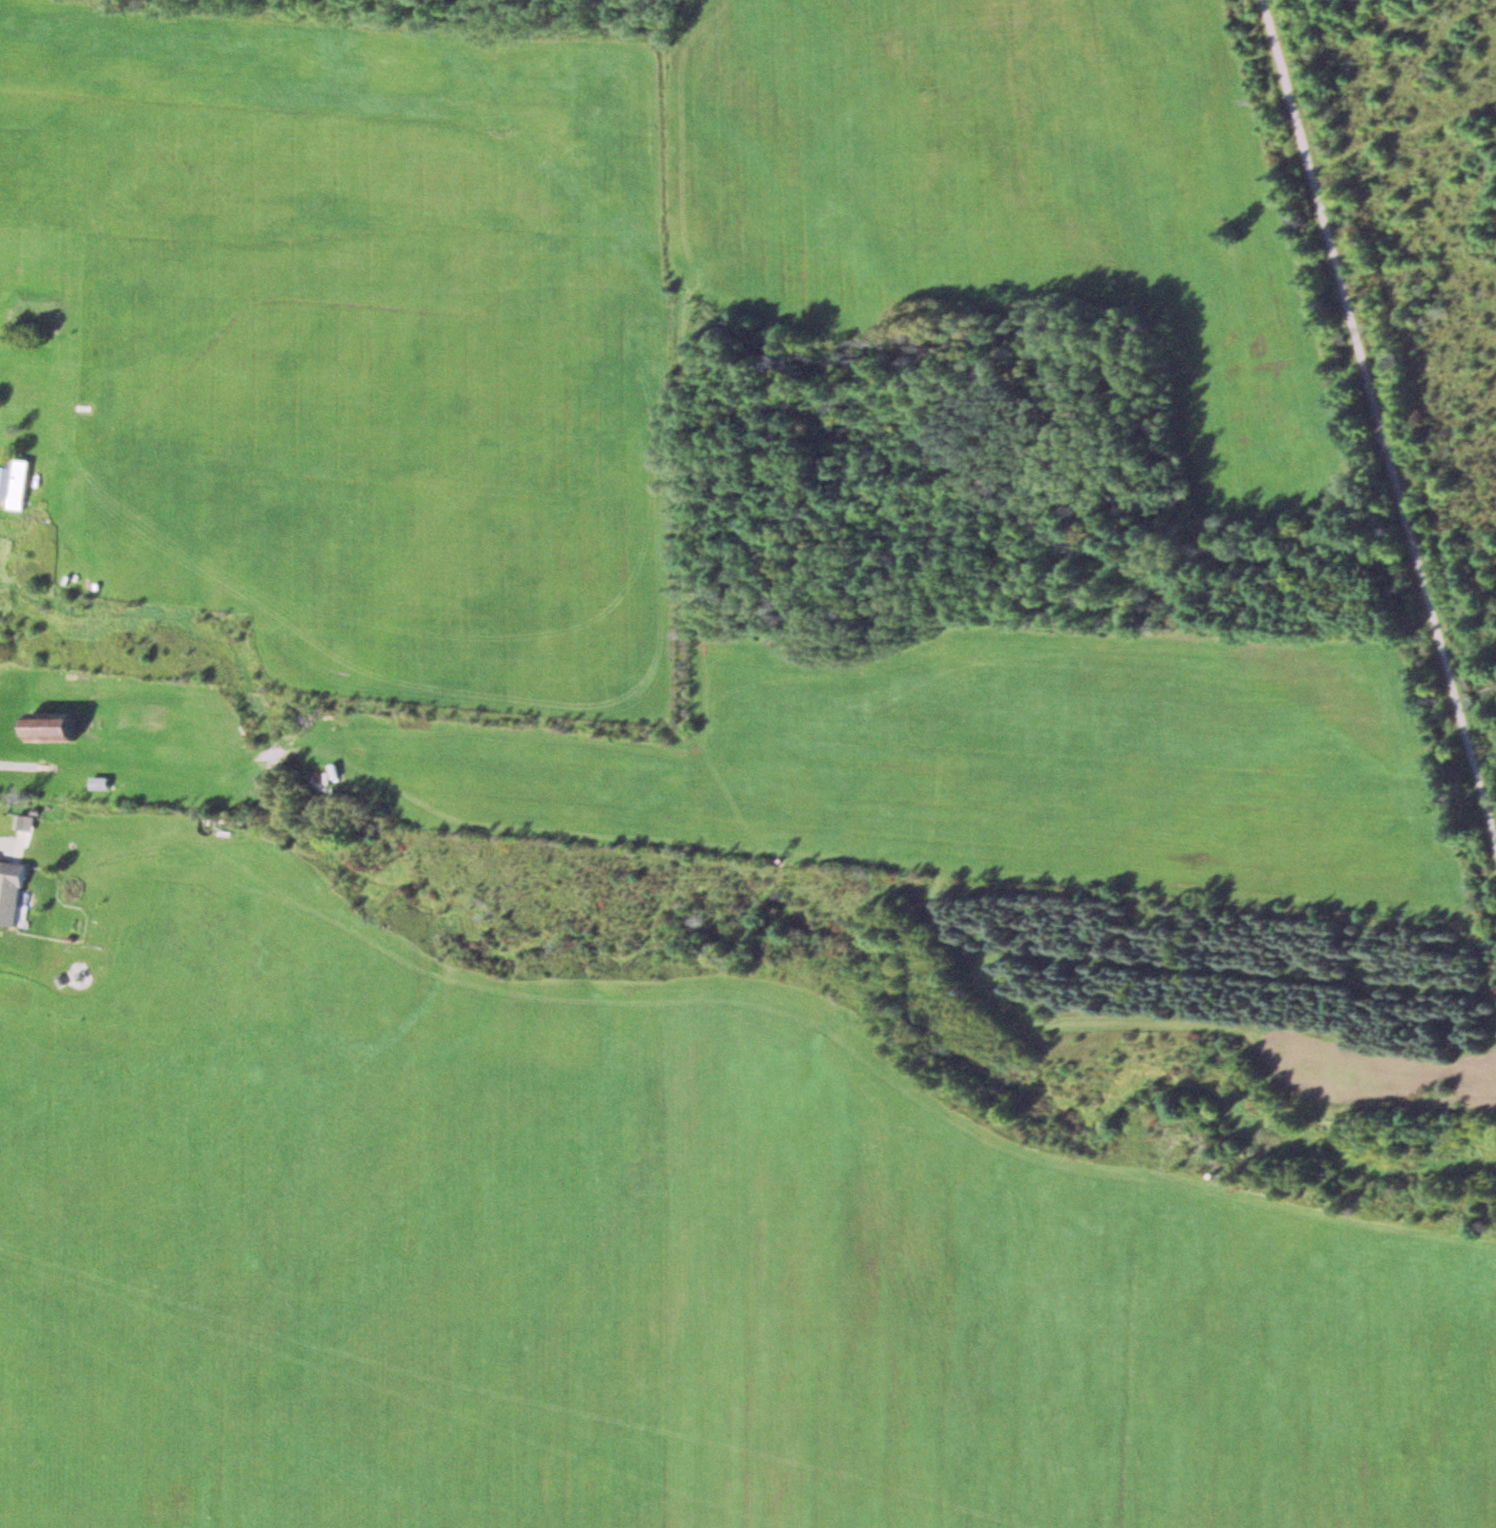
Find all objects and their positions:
road: (1380, 413)
building: (13, 481)
building: (54, 725)
building: (11, 890)

